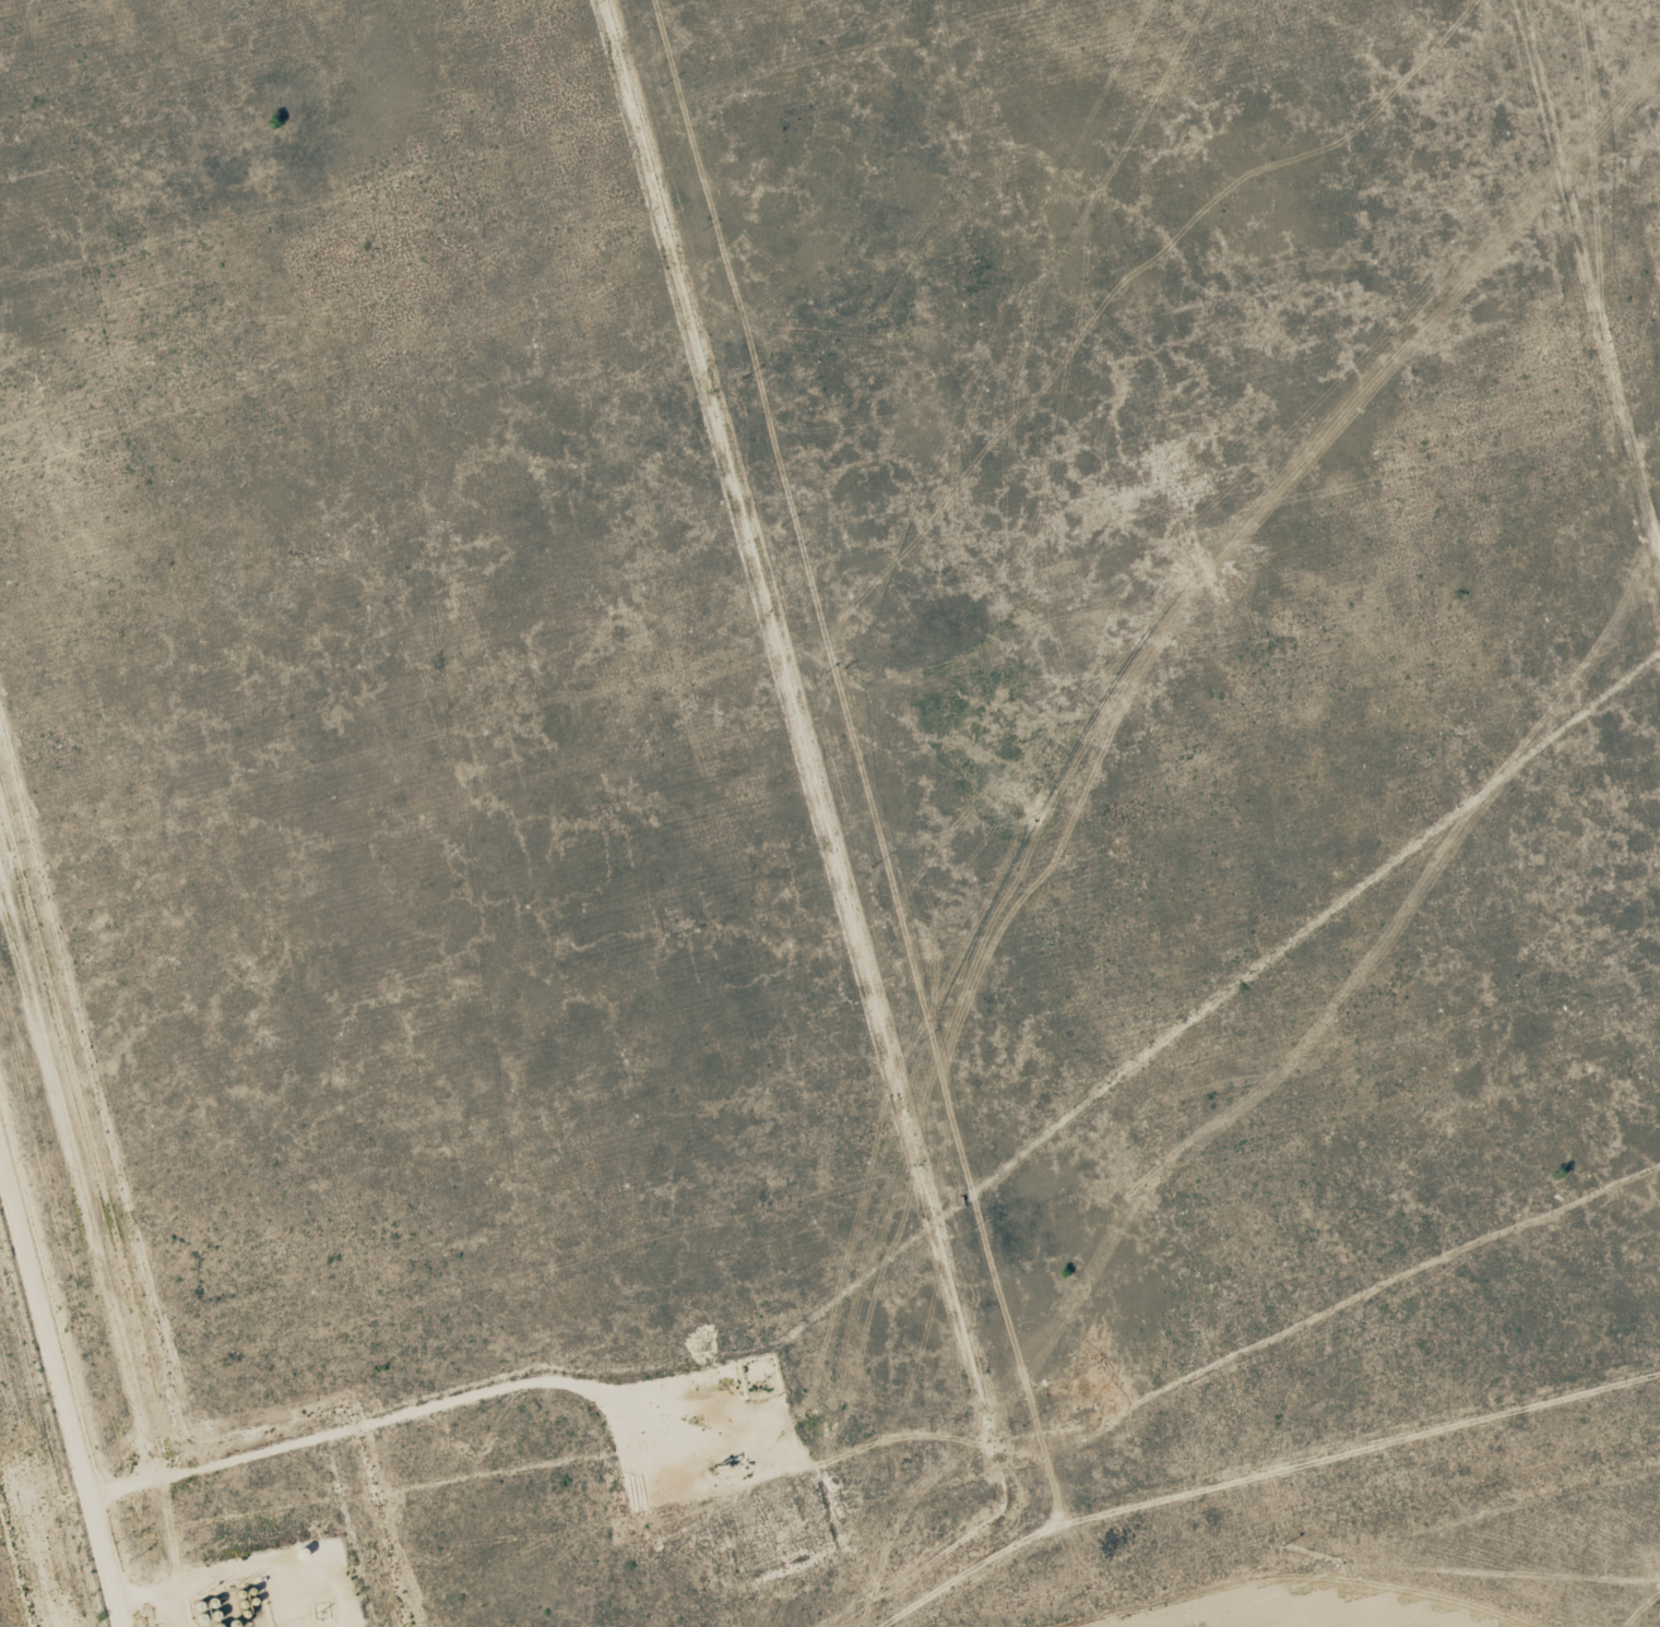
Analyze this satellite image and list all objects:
road: (61, 1383)

